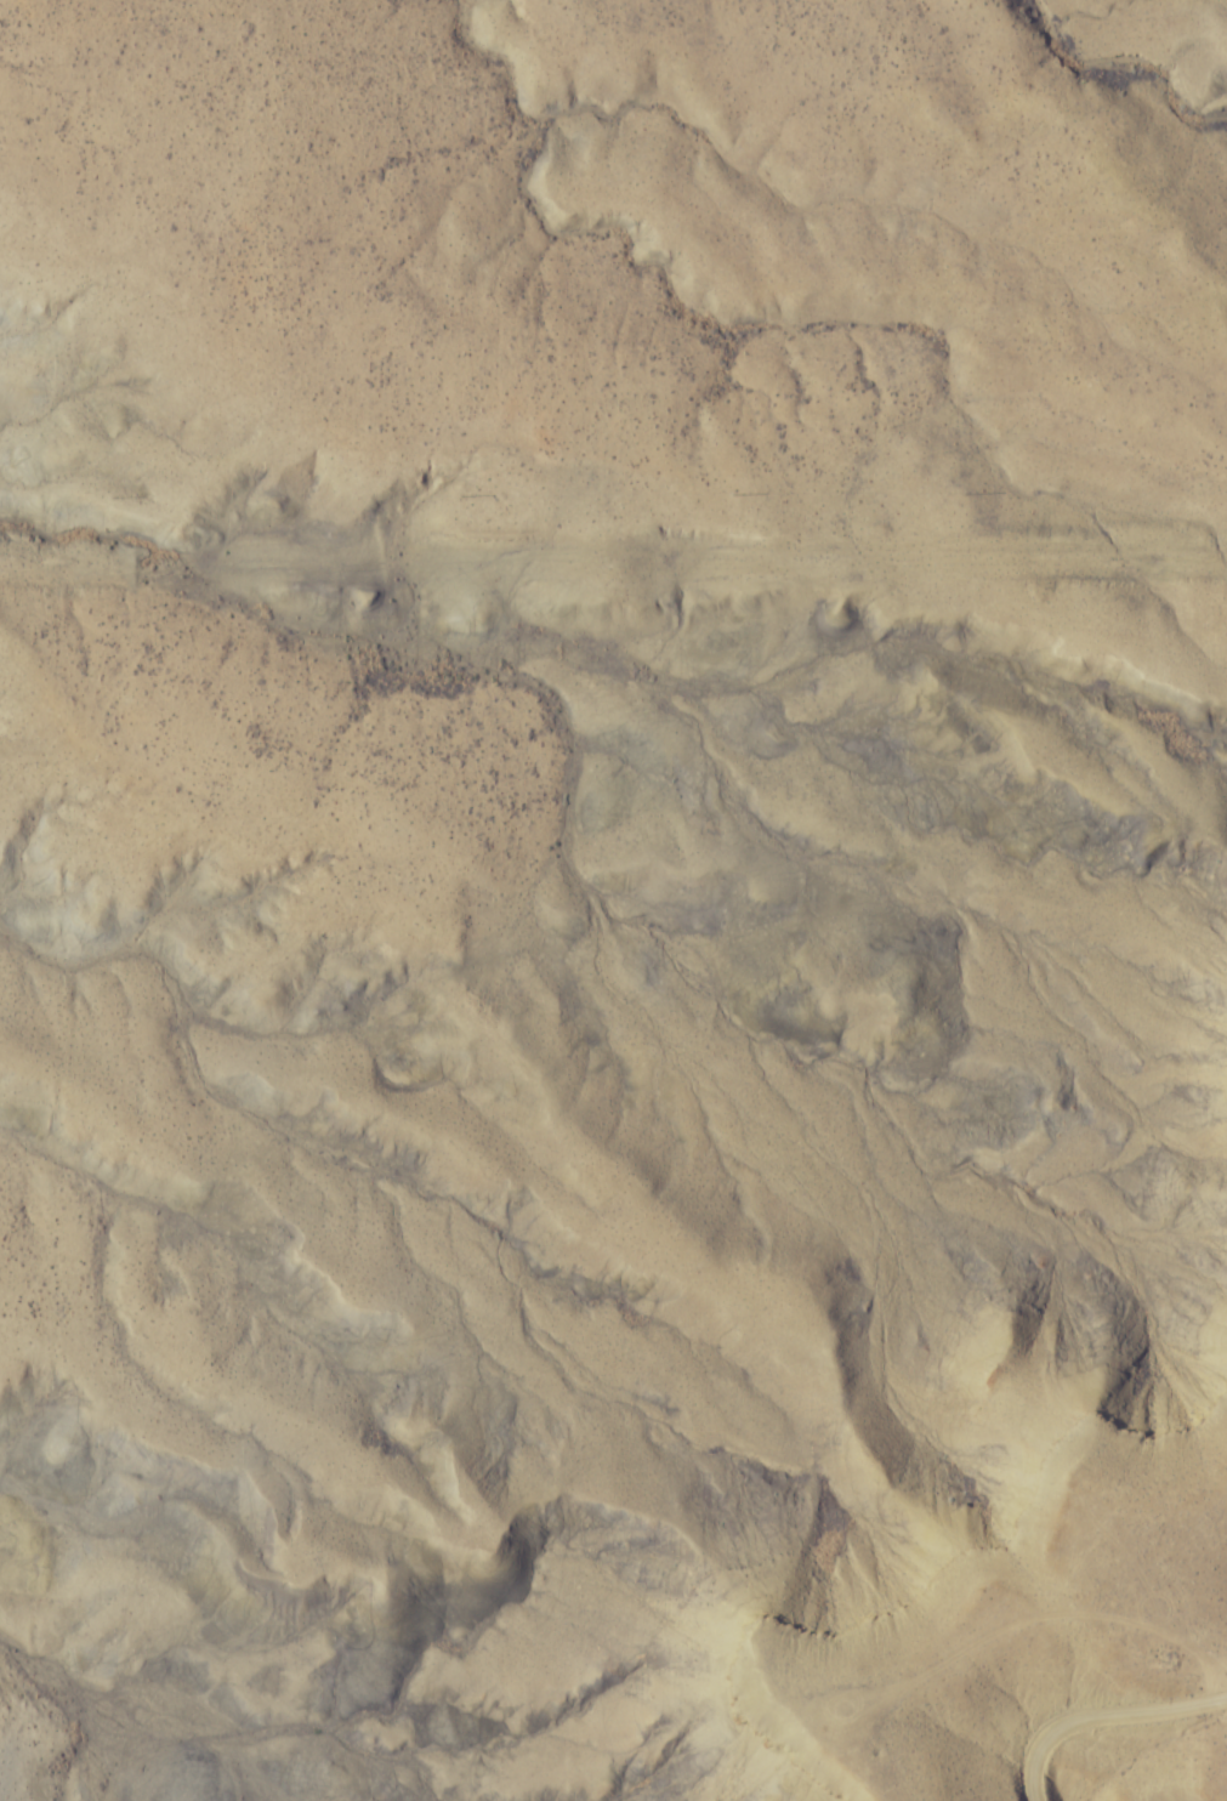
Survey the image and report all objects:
road: (1090, 1678)

